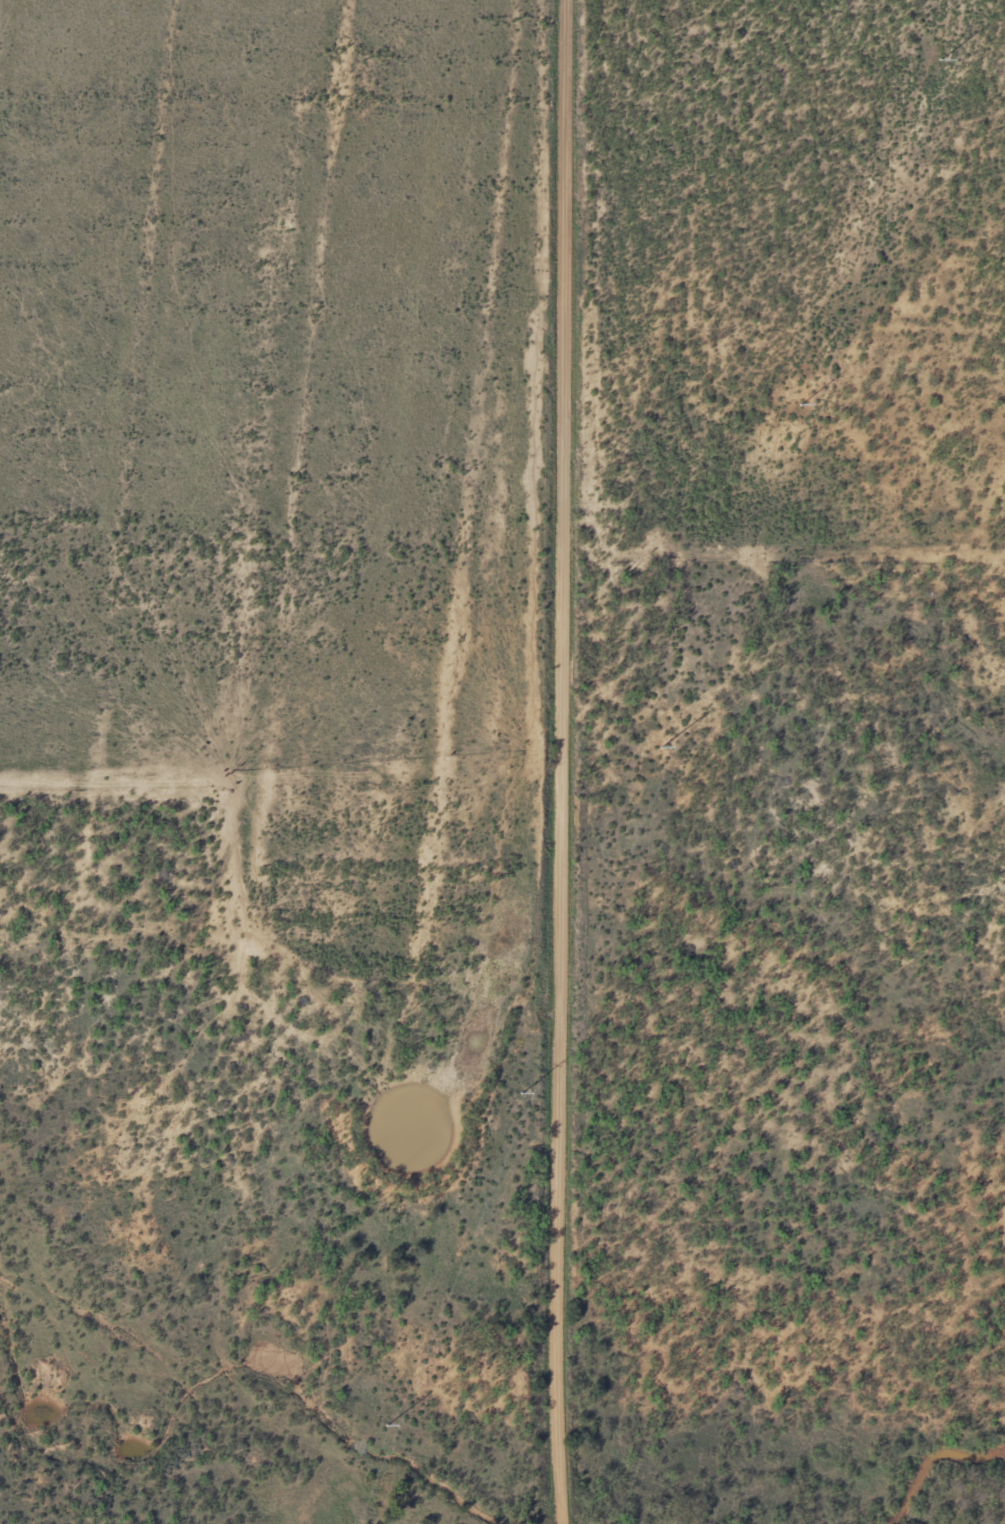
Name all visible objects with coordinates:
power tower: (943, 55)
power tower: (803, 399)
power tower: (664, 744)
road: (568, 762)
road: (177, 1046)
power tower: (524, 1087)
power tower: (384, 1432)

